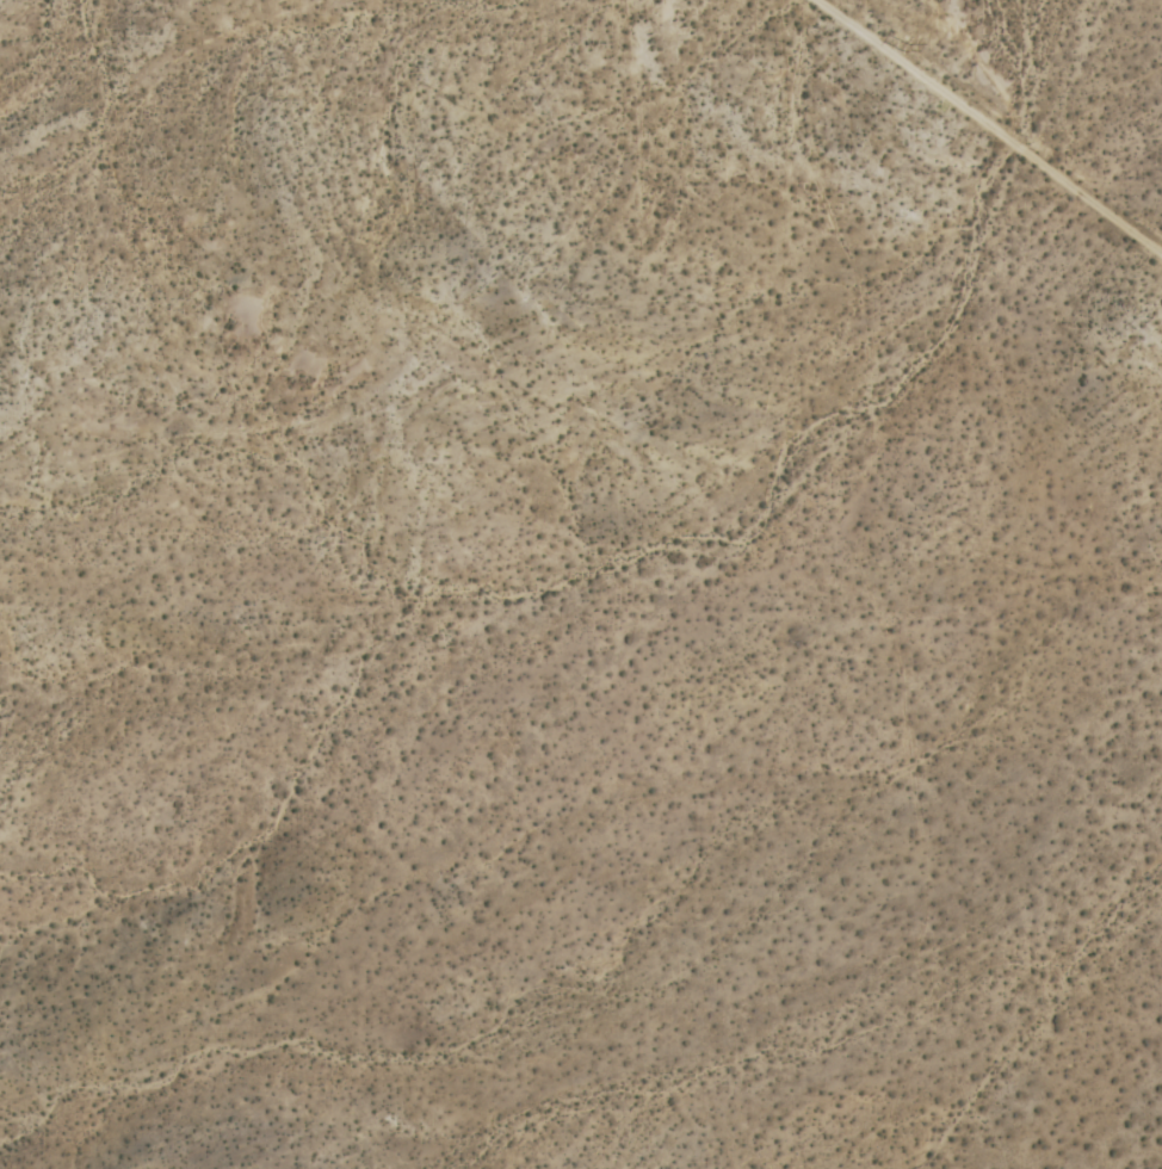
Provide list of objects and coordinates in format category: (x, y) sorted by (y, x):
power tower: (908, 50)
road: (988, 126)

